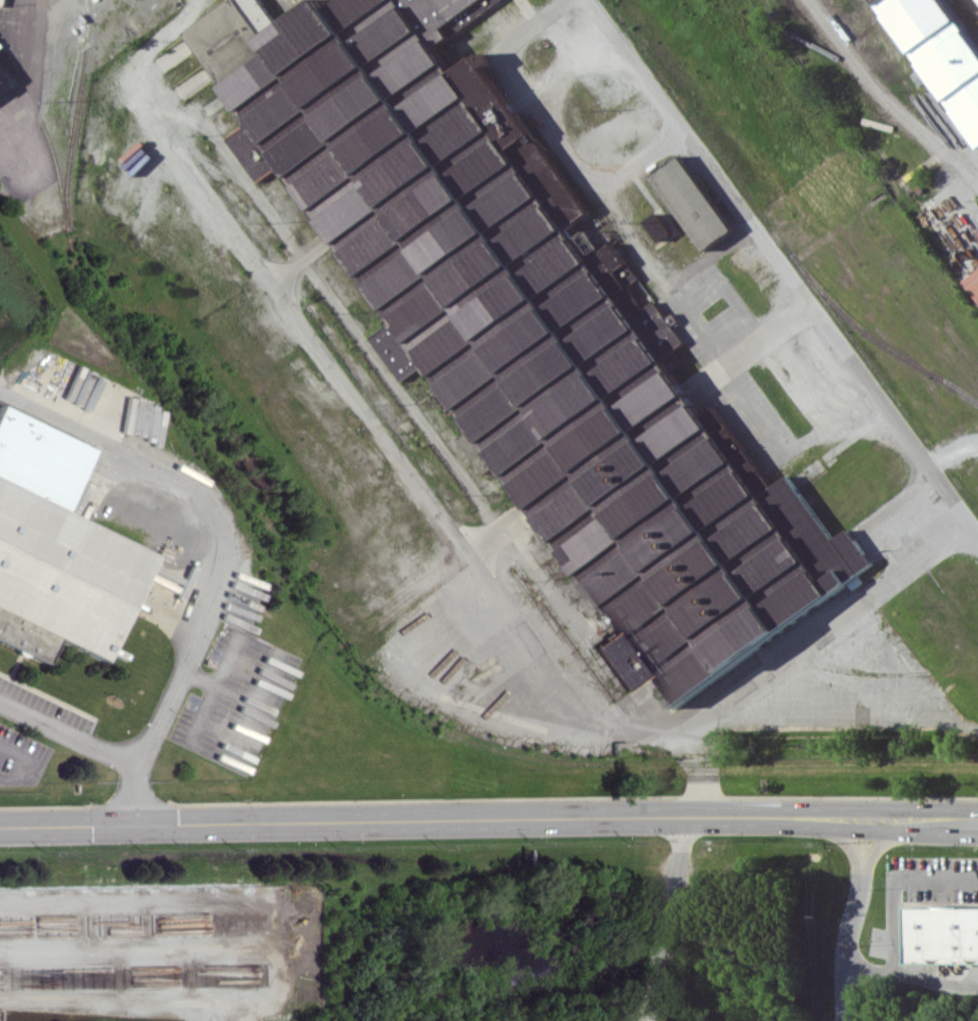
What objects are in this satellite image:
railway: (957, 28)
railway: (927, 45)
building: (942, 48)
building: (3, 87)
road: (884, 99)
road: (546, 127)
building: (692, 202)
building: (658, 226)
road: (629, 233)
road: (299, 262)
road: (781, 268)
road: (272, 284)
road: (699, 325)
building: (530, 331)
road: (732, 367)
road: (220, 527)
building: (55, 549)
road: (840, 717)
road: (672, 729)
road: (69, 734)
road: (32, 762)
road: (699, 766)
road: (138, 796)
road: (480, 818)
road: (970, 819)
traffic signals: (138, 824)
road: (880, 843)
road: (845, 844)
road: (896, 884)
road: (665, 918)
building: (942, 934)
road: (845, 947)
road: (911, 973)

